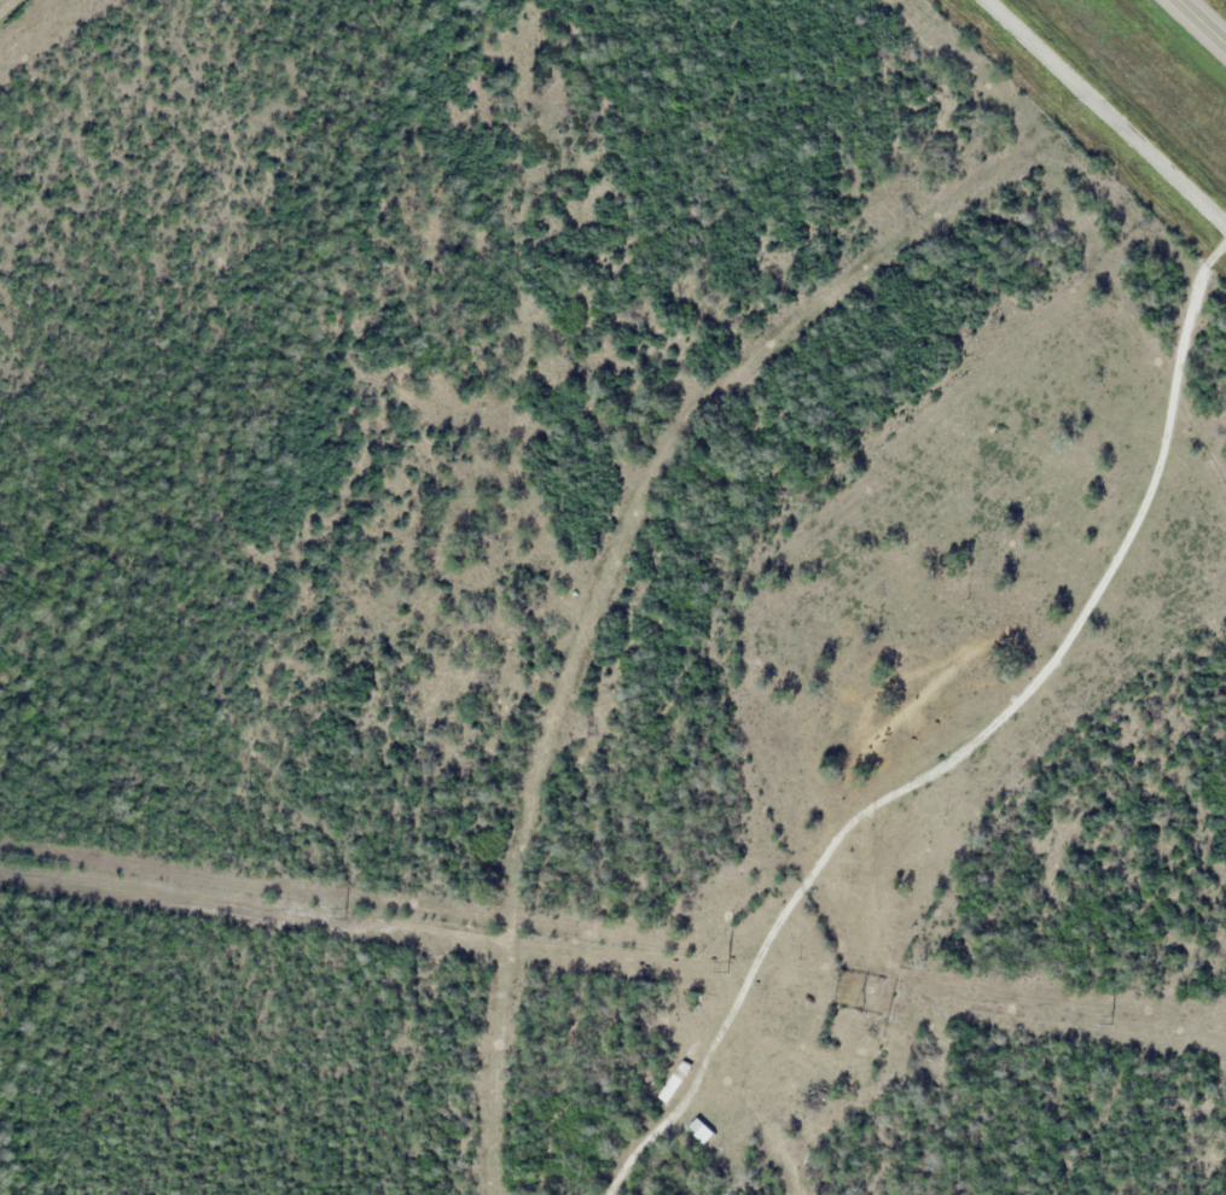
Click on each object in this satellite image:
road: (1202, 22)
road: (1106, 112)
power tower: (344, 911)
power tower: (725, 964)
power tower: (1104, 1014)
building: (668, 1088)

